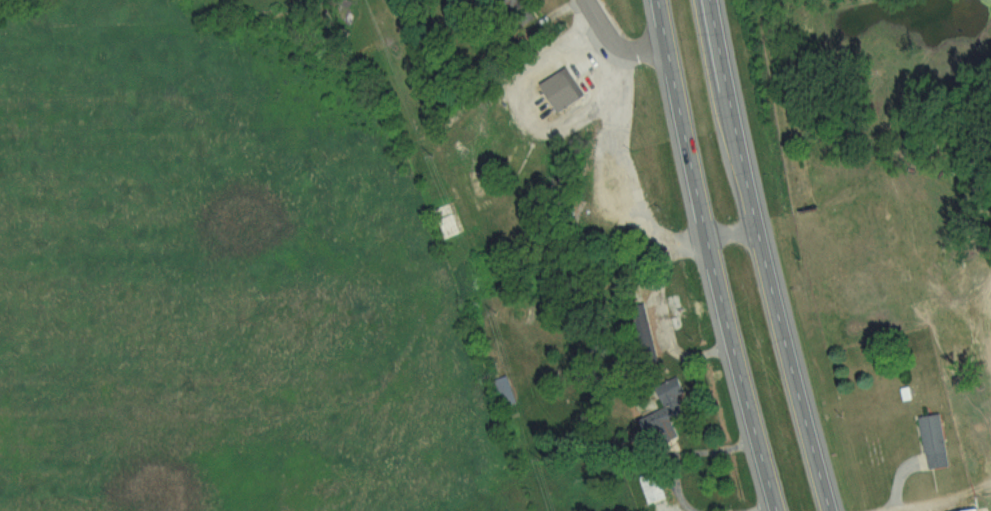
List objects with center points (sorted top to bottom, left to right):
road: (602, 14)
road: (714, 22)
road: (661, 25)
road: (635, 49)
building: (564, 91)
road: (625, 195)
road: (769, 279)
road: (717, 281)
building: (505, 392)
building: (664, 423)
building: (939, 442)
road: (690, 459)
building: (660, 489)
road: (774, 510)
building: (982, 510)

